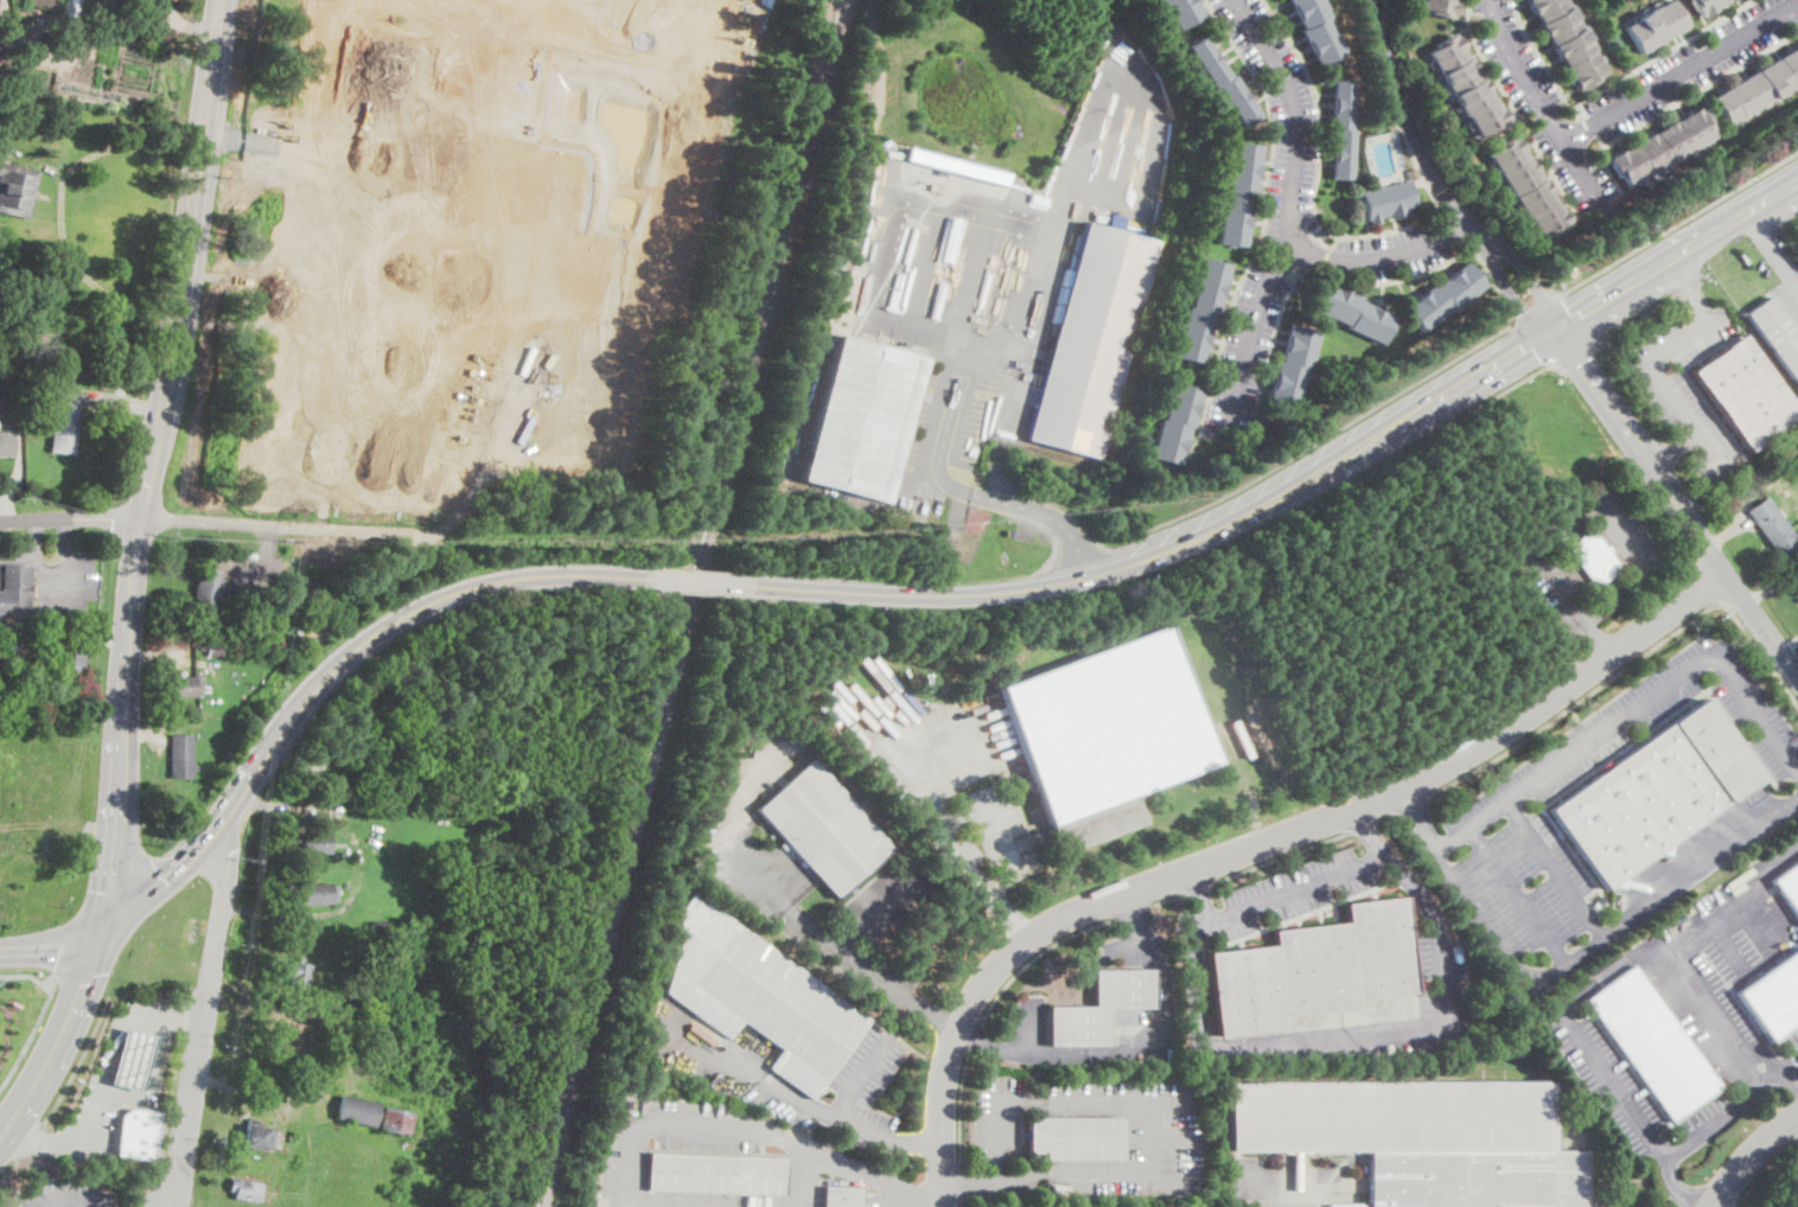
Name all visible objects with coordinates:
building: (1724, 0)
building: (621, 1)
building: (0, 2)
building: (65, 5)
building: (591, 5)
building: (1441, 6)
building: (1703, 6)
road: (168, 8)
building: (707, 9)
building: (1182, 12)
road: (663, 24)
road: (199, 25)
building: (1656, 25)
road: (704, 27)
building: (1318, 30)
building: (1569, 39)
road: (77, 44)
building: (345, 55)
building: (2, 70)
road: (1681, 71)
building: (15, 78)
building: (1224, 82)
building: (1467, 84)
road: (1608, 84)
building: (1758, 85)
building: (495, 92)
road: (1677, 100)
road: (1542, 104)
road: (1516, 110)
building: (1343, 129)
road: (1413, 133)
road: (308, 146)
building: (1662, 146)
railway: (868, 165)
building: (468, 172)
building: (1411, 172)
building: (1529, 186)
building: (17, 190)
building: (1238, 194)
building: (1389, 202)
road: (1289, 204)
road: (58, 206)
road: (690, 207)
road: (1787, 224)
road: (1671, 225)
building: (1321, 232)
road: (923, 248)
road: (1773, 248)
road: (1675, 256)
road: (185, 260)
building: (323, 262)
road: (396, 266)
building: (466, 266)
parking lot: (1783, 274)
road: (1531, 280)
road: (1690, 286)
road: (1513, 294)
building: (1445, 296)
road: (1646, 308)
road: (1034, 311)
building: (1201, 311)
road: (1532, 311)
traffic signals: (1525, 312)
building: (1353, 313)
road: (964, 315)
traffic signals: (1575, 318)
road: (1574, 320)
building: (14, 324)
road: (516, 332)
road: (1252, 332)
building: (1777, 334)
building: (483, 337)
building: (1090, 337)
building: (40, 341)
road: (1531, 344)
road: (332, 349)
traffic signals: (1522, 350)
road: (1579, 356)
building: (274, 359)
traffic signals: (1580, 363)
building: (1293, 366)
road: (1658, 379)
parking lot: (1683, 383)
building: (1747, 392)
road: (1413, 416)
road: (1456, 416)
building: (865, 419)
building: (65, 422)
building: (1177, 423)
building: (295, 430)
building: (578, 436)
building: (6, 440)
road: (1316, 440)
road: (1673, 446)
building: (451, 448)
road: (1626, 478)
road: (1676, 500)
road: (70, 518)
road: (273, 528)
road: (1673, 528)
building: (1774, 528)
parking lot: (1633, 534)
parking lot: (1551, 558)
building: (1594, 558)
building: (1797, 581)
road: (699, 582)
road: (478, 585)
road: (1704, 586)
building: (15, 589)
road: (1022, 589)
building: (1797, 590)
building: (206, 595)
railway: (690, 603)
road: (1580, 621)
road: (1593, 640)
building: (215, 650)
building: (276, 651)
building: (66, 659)
building: (2, 660)
road: (1628, 664)
building: (183, 686)
road: (1637, 705)
road: (122, 719)
building: (1108, 735)
building: (181, 756)
building: (1652, 792)
road: (232, 803)
building: (361, 803)
road: (1411, 803)
building: (25, 813)
road: (1385, 815)
parking lot: (1496, 820)
road: (955, 823)
road: (1362, 825)
building: (824, 828)
road: (1366, 830)
parking lot: (986, 841)
building: (314, 843)
road: (1258, 844)
road: (1385, 854)
road: (1280, 857)
road: (1552, 866)
road: (113, 867)
road: (151, 883)
road: (1464, 886)
building: (1789, 886)
road: (1196, 888)
road: (1663, 889)
building: (319, 893)
road: (1515, 893)
road: (1199, 894)
parking lot: (1283, 896)
road: (1166, 898)
parking lot: (886, 899)
road: (1728, 901)
road: (878, 908)
road: (1131, 911)
traffic signals: (106, 921)
building: (382, 926)
road: (821, 931)
road: (63, 945)
road: (56, 949)
parking lot: (1128, 949)
road: (1035, 956)
road: (1768, 959)
parking lot: (852, 960)
road: (87, 964)
building: (1312, 969)
parking lot: (1729, 972)
building: (300, 973)
road: (28, 975)
parking lot: (1448, 978)
building: (759, 996)
building: (1773, 996)
building: (353, 1005)
building: (1101, 1008)
road: (933, 1015)
road: (206, 1018)
road: (1708, 1020)
parking lot: (1026, 1029)
road: (60, 1030)
road: (1027, 1030)
road: (31, 1033)
road: (110, 1036)
road: (974, 1036)
building: (291, 1040)
road: (1265, 1041)
parking lot: (1793, 1041)
building: (1652, 1043)
road: (1137, 1050)
road: (76, 1059)
building: (133, 1059)
road: (338, 1065)
road: (1785, 1066)
road: (859, 1075)
road: (1783, 1088)
parking lot: (843, 1090)
parking lot: (1631, 1092)
road: (1128, 1096)
road: (125, 1099)
road: (959, 1107)
building: (357, 1109)
road: (824, 1115)
building: (397, 1119)
parking lot: (696, 1123)
parking lot: (1162, 1128)
road: (723, 1129)
building: (138, 1133)
road: (31, 1138)
building: (259, 1138)
building: (1075, 1138)
building: (1421, 1138)
road: (1652, 1141)
road: (917, 1142)
road: (1752, 1157)
road: (9, 1166)
building: (716, 1174)
road: (806, 1177)
road: (1277, 1177)
road: (958, 1181)
road: (1000, 1182)
parking lot: (1277, 1183)
road: (1677, 1187)
building: (1060, 1188)
building: (250, 1189)
parking lot: (71, 1193)
road: (890, 1194)
road: (916, 1195)
building: (842, 1196)
parking lot: (1615, 1198)
road: (63, 1199)
parking lot: (890, 1199)
road: (1619, 1199)
parking lot: (610, 1201)
road: (959, 1202)

